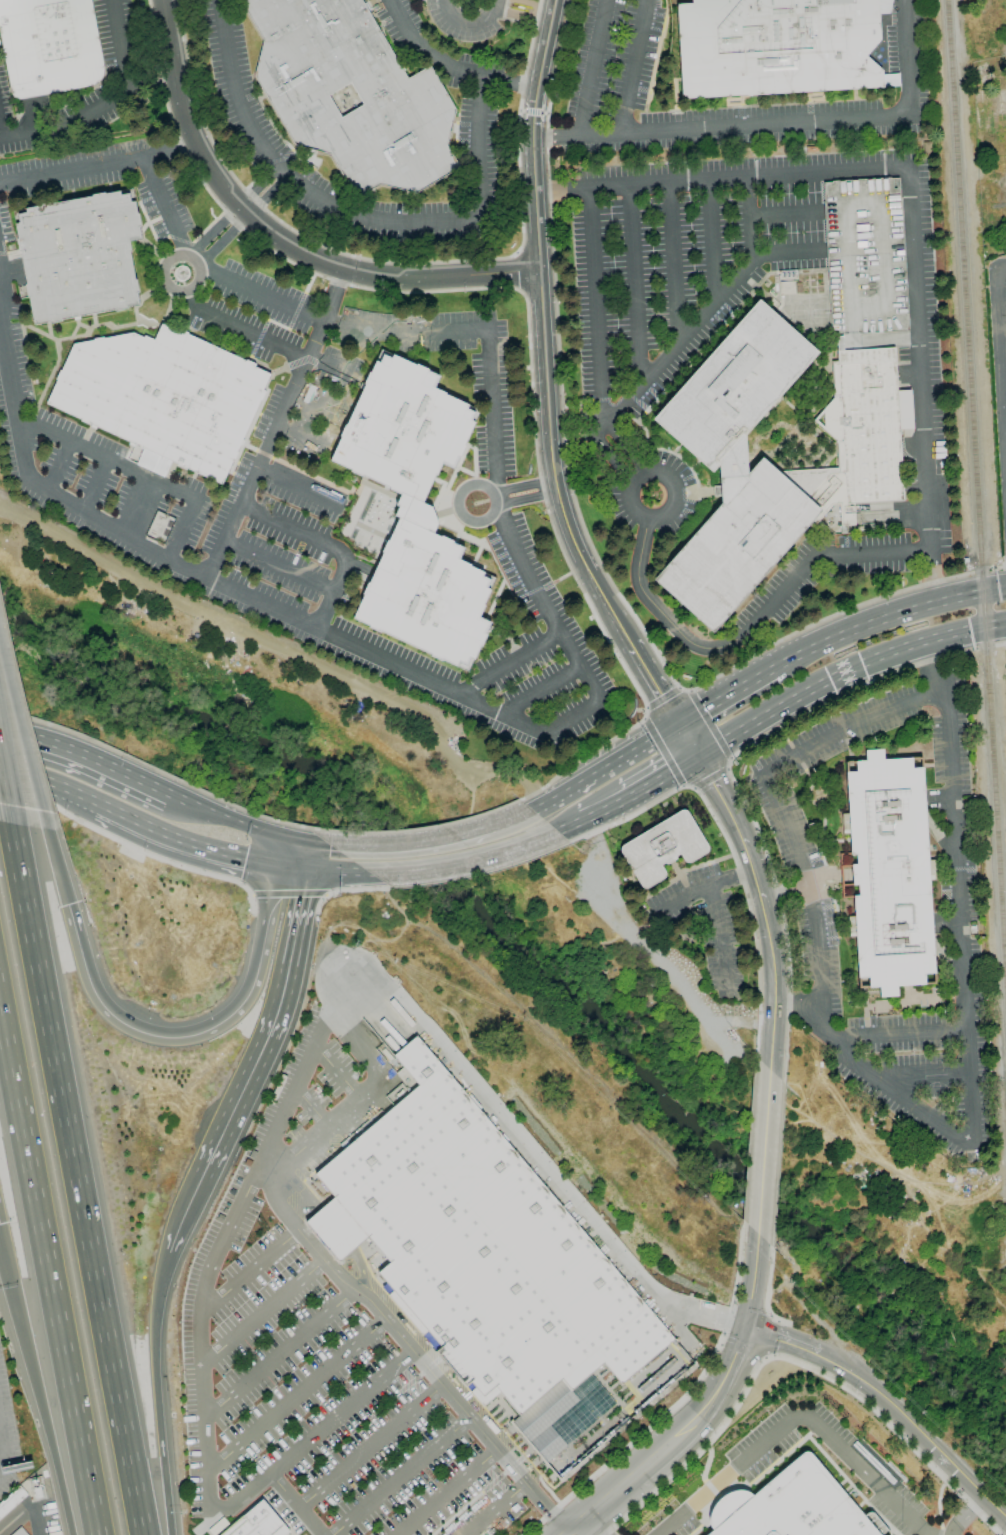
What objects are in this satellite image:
road: (542, 2)
road: (498, 6)
road: (525, 15)
road: (465, 22)
building: (49, 46)
building: (775, 46)
road: (424, 49)
road: (907, 54)
road: (635, 66)
road: (507, 82)
building: (404, 100)
road: (108, 103)
road: (2, 126)
road: (721, 127)
building: (927, 150)
road: (98, 162)
road: (722, 178)
road: (258, 184)
road: (268, 194)
road: (160, 203)
road: (350, 213)
road: (784, 214)
road: (214, 229)
road: (277, 235)
road: (715, 238)
road: (224, 239)
road: (786, 251)
building: (79, 256)
road: (195, 258)
parking lot: (687, 259)
road: (397, 261)
road: (675, 261)
building: (865, 264)
parking garage: (865, 264)
road: (635, 286)
parking lot: (1005, 290)
road: (597, 300)
road: (527, 319)
road: (340, 323)
road: (543, 330)
road: (690, 330)
road: (263, 336)
road: (1000, 353)
road: (921, 385)
building: (163, 396)
road: (316, 399)
road: (492, 409)
road: (281, 422)
road: (1005, 427)
road: (299, 436)
road: (106, 457)
road: (61, 466)
building: (868, 466)
road: (657, 471)
road: (97, 484)
road: (522, 484)
road: (300, 485)
road: (492, 498)
road: (525, 499)
road: (142, 506)
railway: (976, 507)
building: (415, 511)
road: (580, 514)
road: (183, 527)
road: (330, 546)
road: (282, 567)
road: (1005, 567)
road: (987, 570)
road: (249, 591)
road: (545, 601)
road: (886, 618)
road: (747, 627)
road: (985, 648)
road: (934, 661)
road: (508, 662)
road: (845, 671)
road: (654, 685)
road: (537, 690)
road: (725, 695)
road: (664, 697)
traffic signals: (677, 725)
road: (710, 725)
road: (688, 740)
road: (87, 751)
road: (664, 751)
road: (950, 752)
traffic signals: (699, 756)
road: (24, 766)
road: (605, 768)
road: (162, 771)
road: (664, 776)
road: (710, 778)
road: (49, 786)
road: (5, 791)
road: (736, 793)
road: (605, 809)
road: (226, 814)
road: (715, 818)
road: (510, 822)
road: (569, 826)
road: (737, 826)
road: (423, 827)
road: (298, 841)
road: (186, 844)
road: (411, 844)
traffic signals: (312, 845)
road: (323, 846)
building: (663, 847)
road: (134, 848)
road: (282, 855)
road: (309, 861)
road: (465, 861)
road: (58, 866)
building: (889, 872)
traffic signals: (279, 873)
road: (481, 873)
road: (292, 875)
traffic signals: (306, 877)
road: (338, 877)
road: (346, 890)
road: (288, 893)
road: (251, 894)
road: (324, 894)
road: (684, 897)
traffic signals: (68, 905)
road: (715, 914)
river: (543, 971)
road: (774, 985)
road: (797, 1008)
road: (826, 1026)
road: (897, 1032)
road: (187, 1037)
road: (265, 1041)
road: (915, 1068)
road: (337, 1074)
road: (310, 1108)
road: (768, 1145)
road: (541, 1160)
road: (778, 1164)
road: (72, 1180)
road: (236, 1208)
road: (179, 1223)
building: (481, 1253)
road: (49, 1256)
road: (250, 1272)
road: (758, 1274)
road: (339, 1279)
road: (772, 1289)
road: (262, 1312)
road: (783, 1341)
road: (279, 1353)
parking lot: (310, 1362)
road: (36, 1390)
road: (155, 1393)
road: (296, 1396)
road: (801, 1415)
road: (915, 1429)
road: (317, 1432)
parking lot: (6, 1441)
road: (671, 1444)
road: (369, 1446)
road: (0, 1448)
road: (501, 1473)
road: (399, 1476)
road: (447, 1492)
building: (12, 1501)
road: (295, 1504)
building: (788, 1507)
road: (494, 1509)
road: (966, 1512)
road: (456, 1513)
road: (18, 1520)
road: (37, 1520)
building: (259, 1523)
road: (594, 1525)
building: (217, 1526)
building: (20, 1532)

